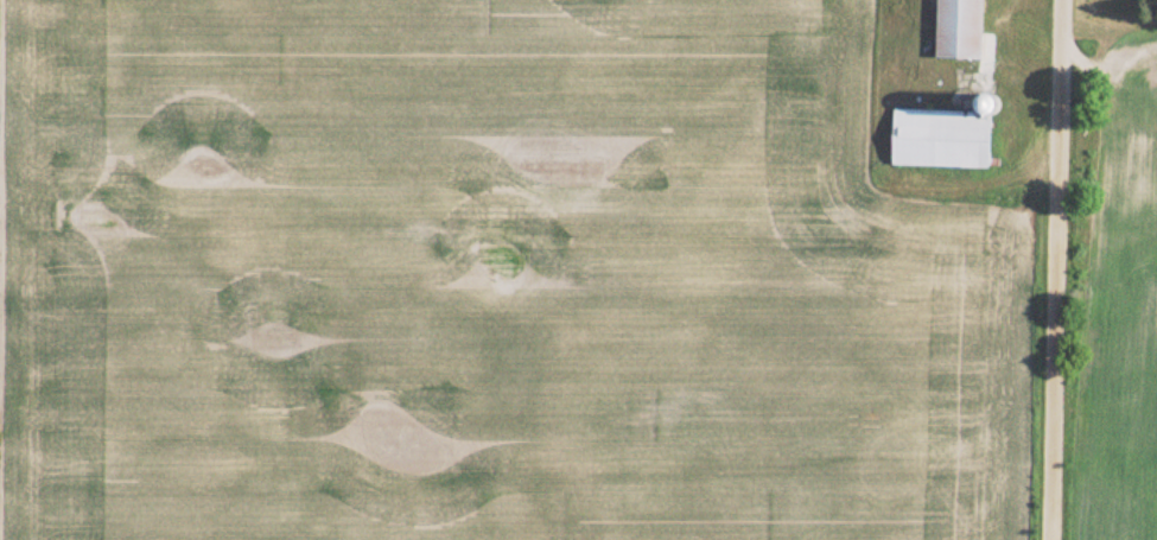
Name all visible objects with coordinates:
building: (961, 28)
building: (942, 138)
road: (1061, 269)

